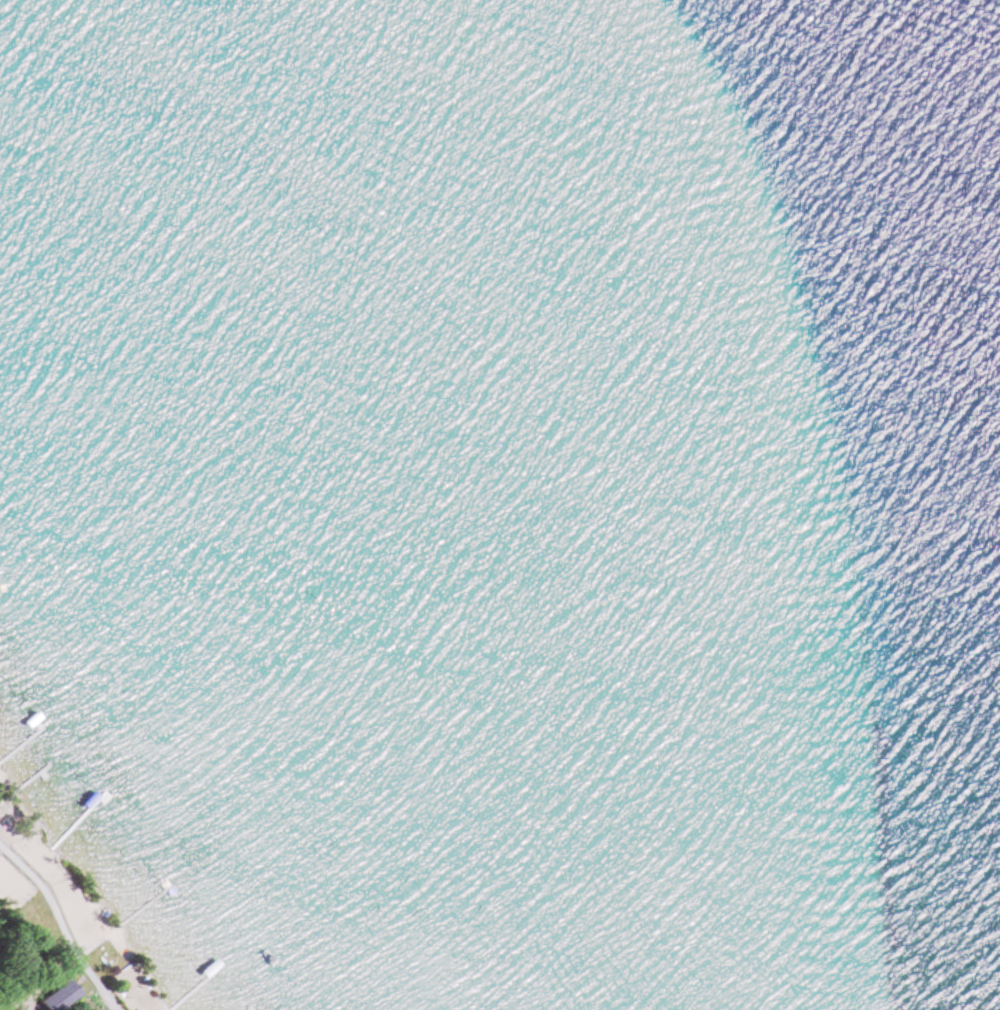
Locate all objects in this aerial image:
road: (62, 924)

